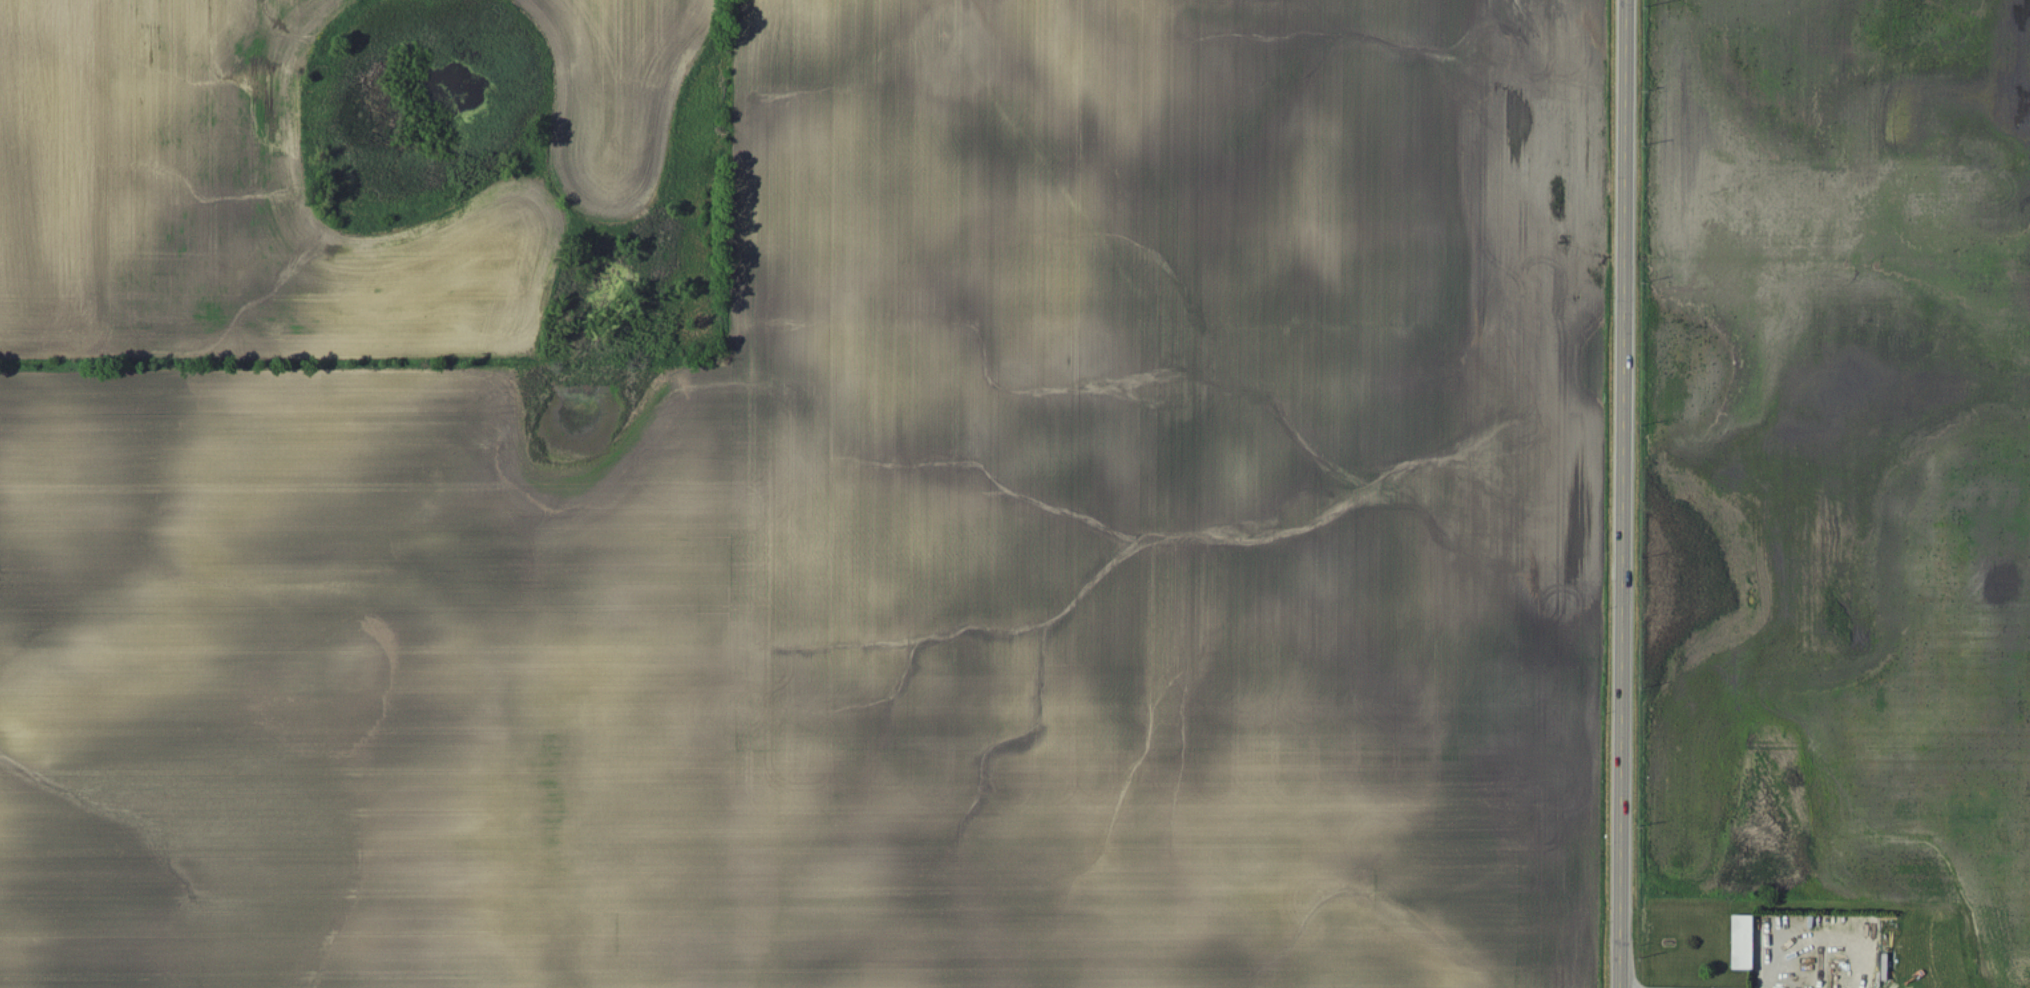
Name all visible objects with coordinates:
road: (1624, 494)
building: (1745, 944)
building: (1887, 968)

